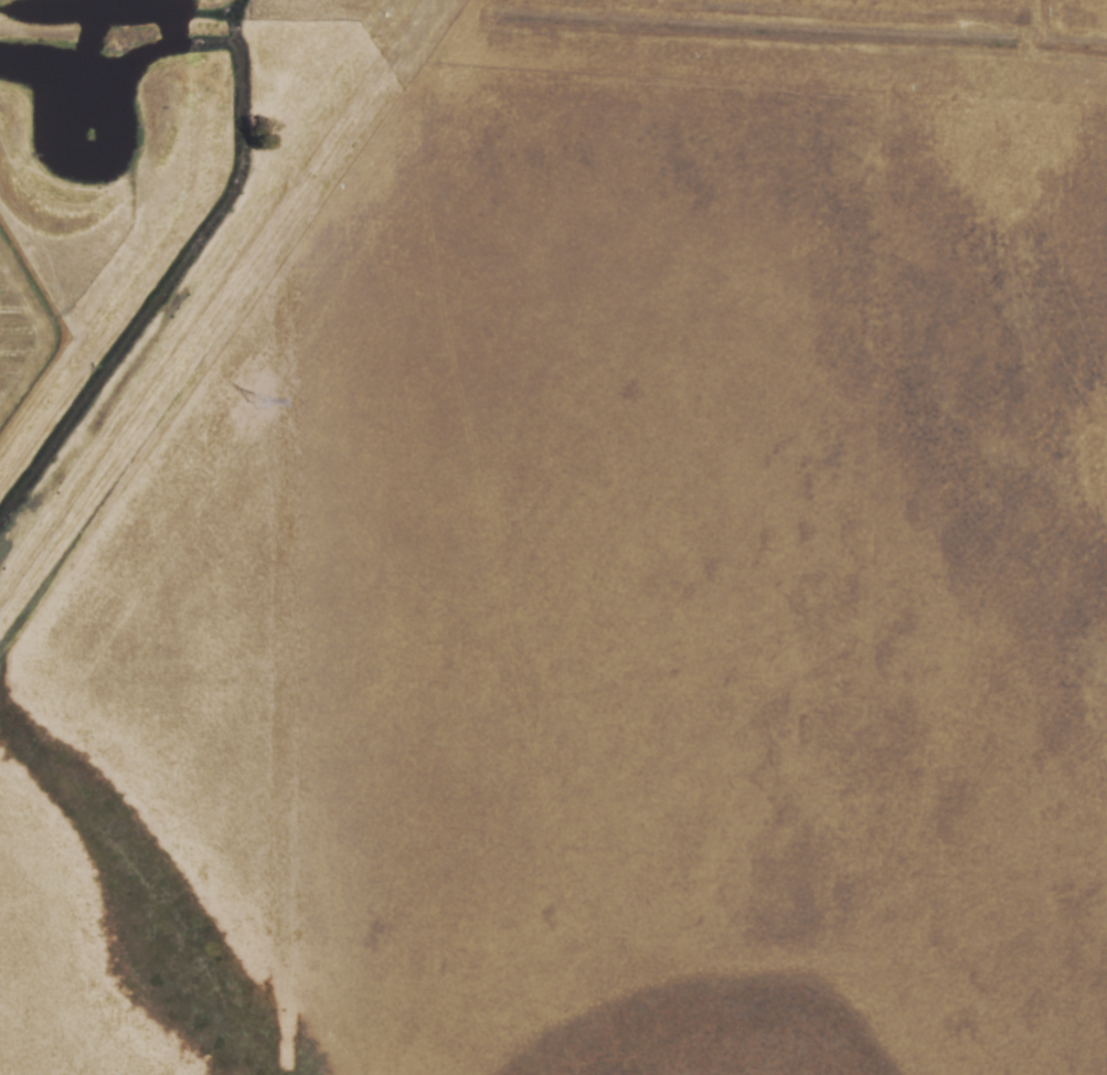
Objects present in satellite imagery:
power tower: (240, 422)

